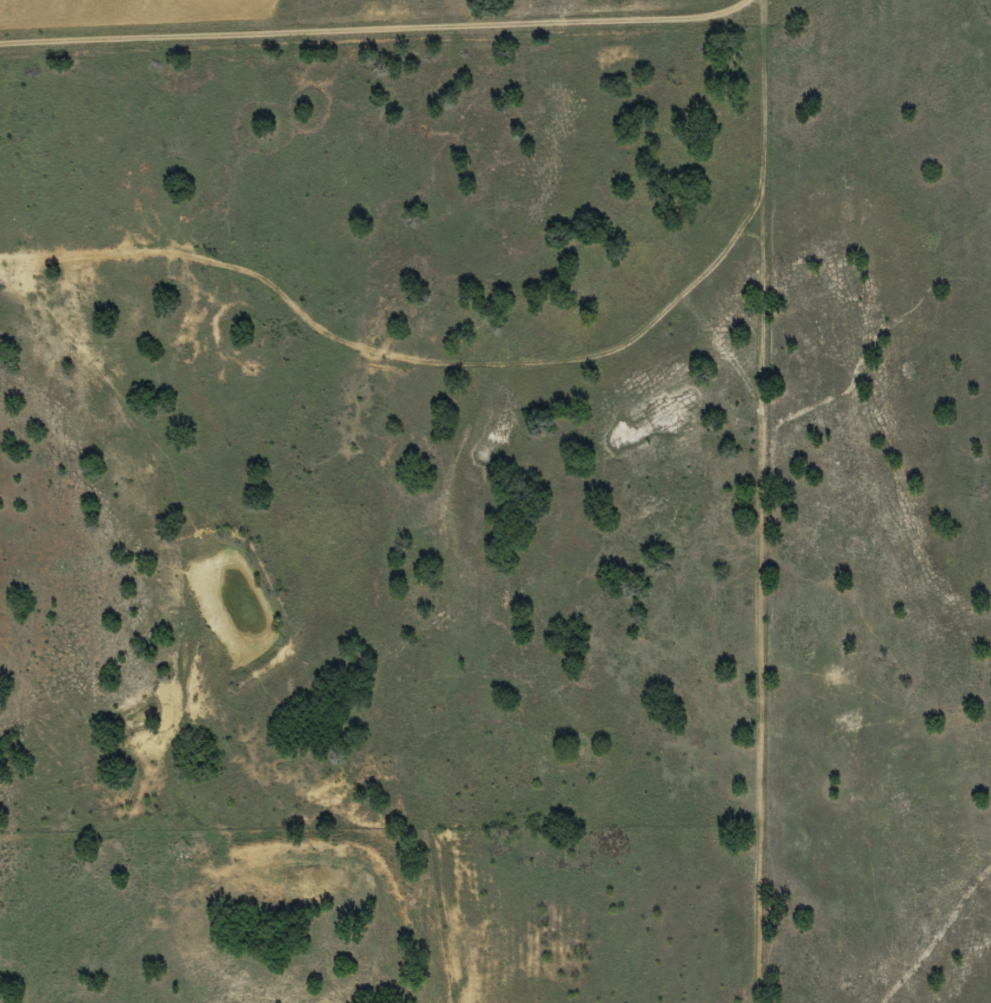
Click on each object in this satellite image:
road: (785, 5)
road: (392, 26)
road: (789, 507)

